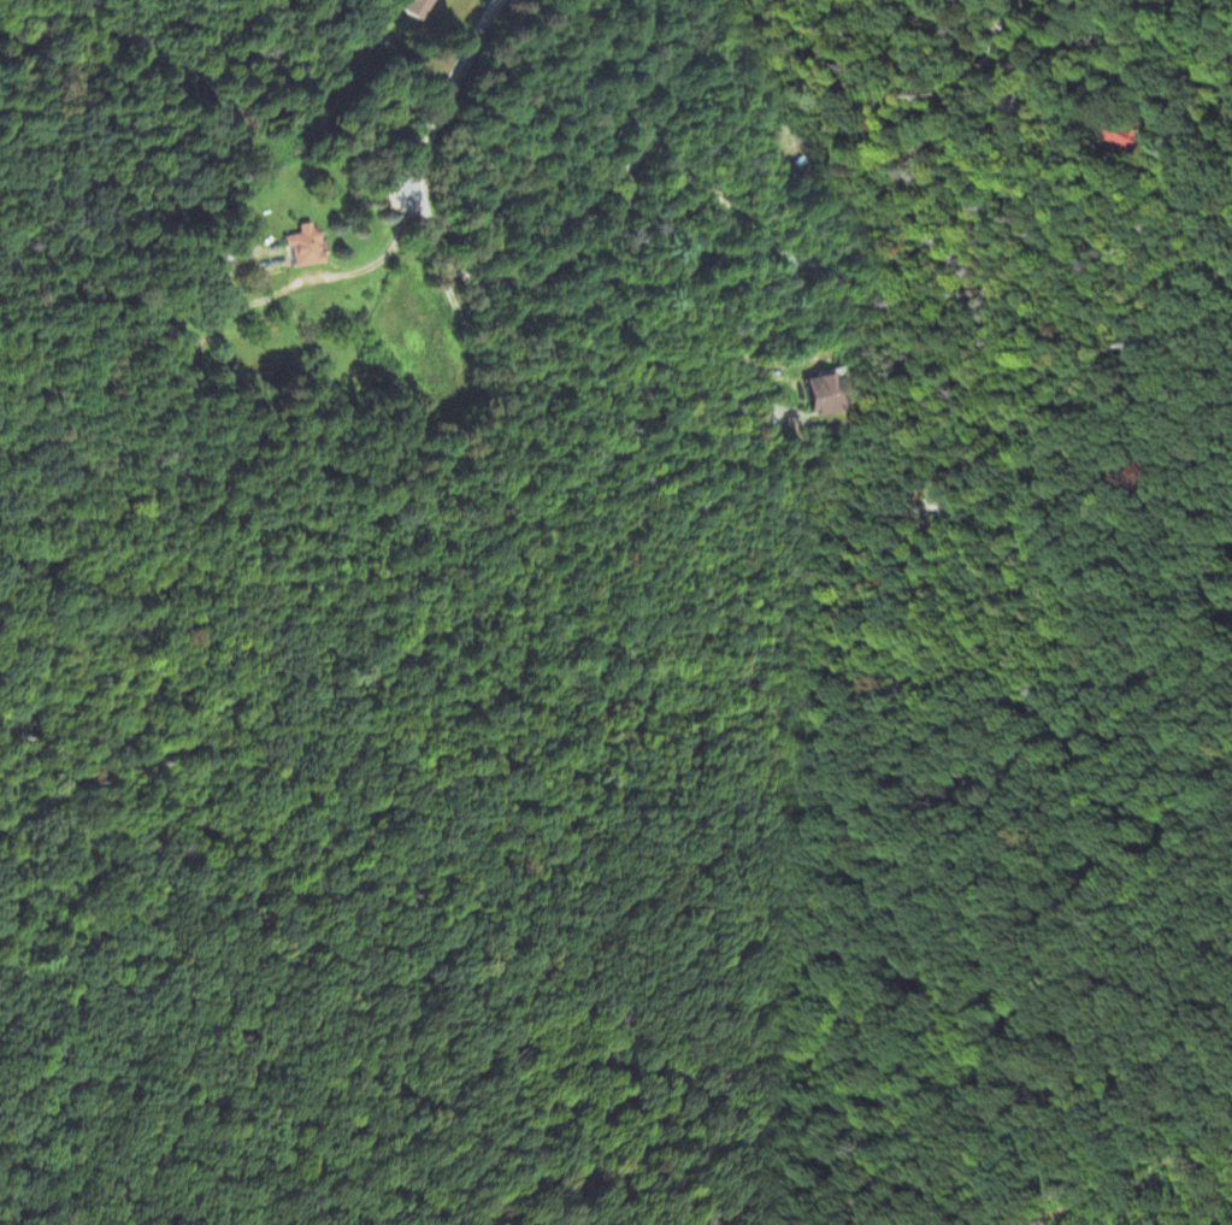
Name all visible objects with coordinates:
building: (417, 7)
road: (431, 128)
building: (1126, 131)
road: (632, 178)
road: (862, 228)
building: (302, 245)
building: (317, 355)
building: (825, 393)
road: (637, 459)
parking lot: (930, 516)
road: (1080, 524)
park: (672, 860)

